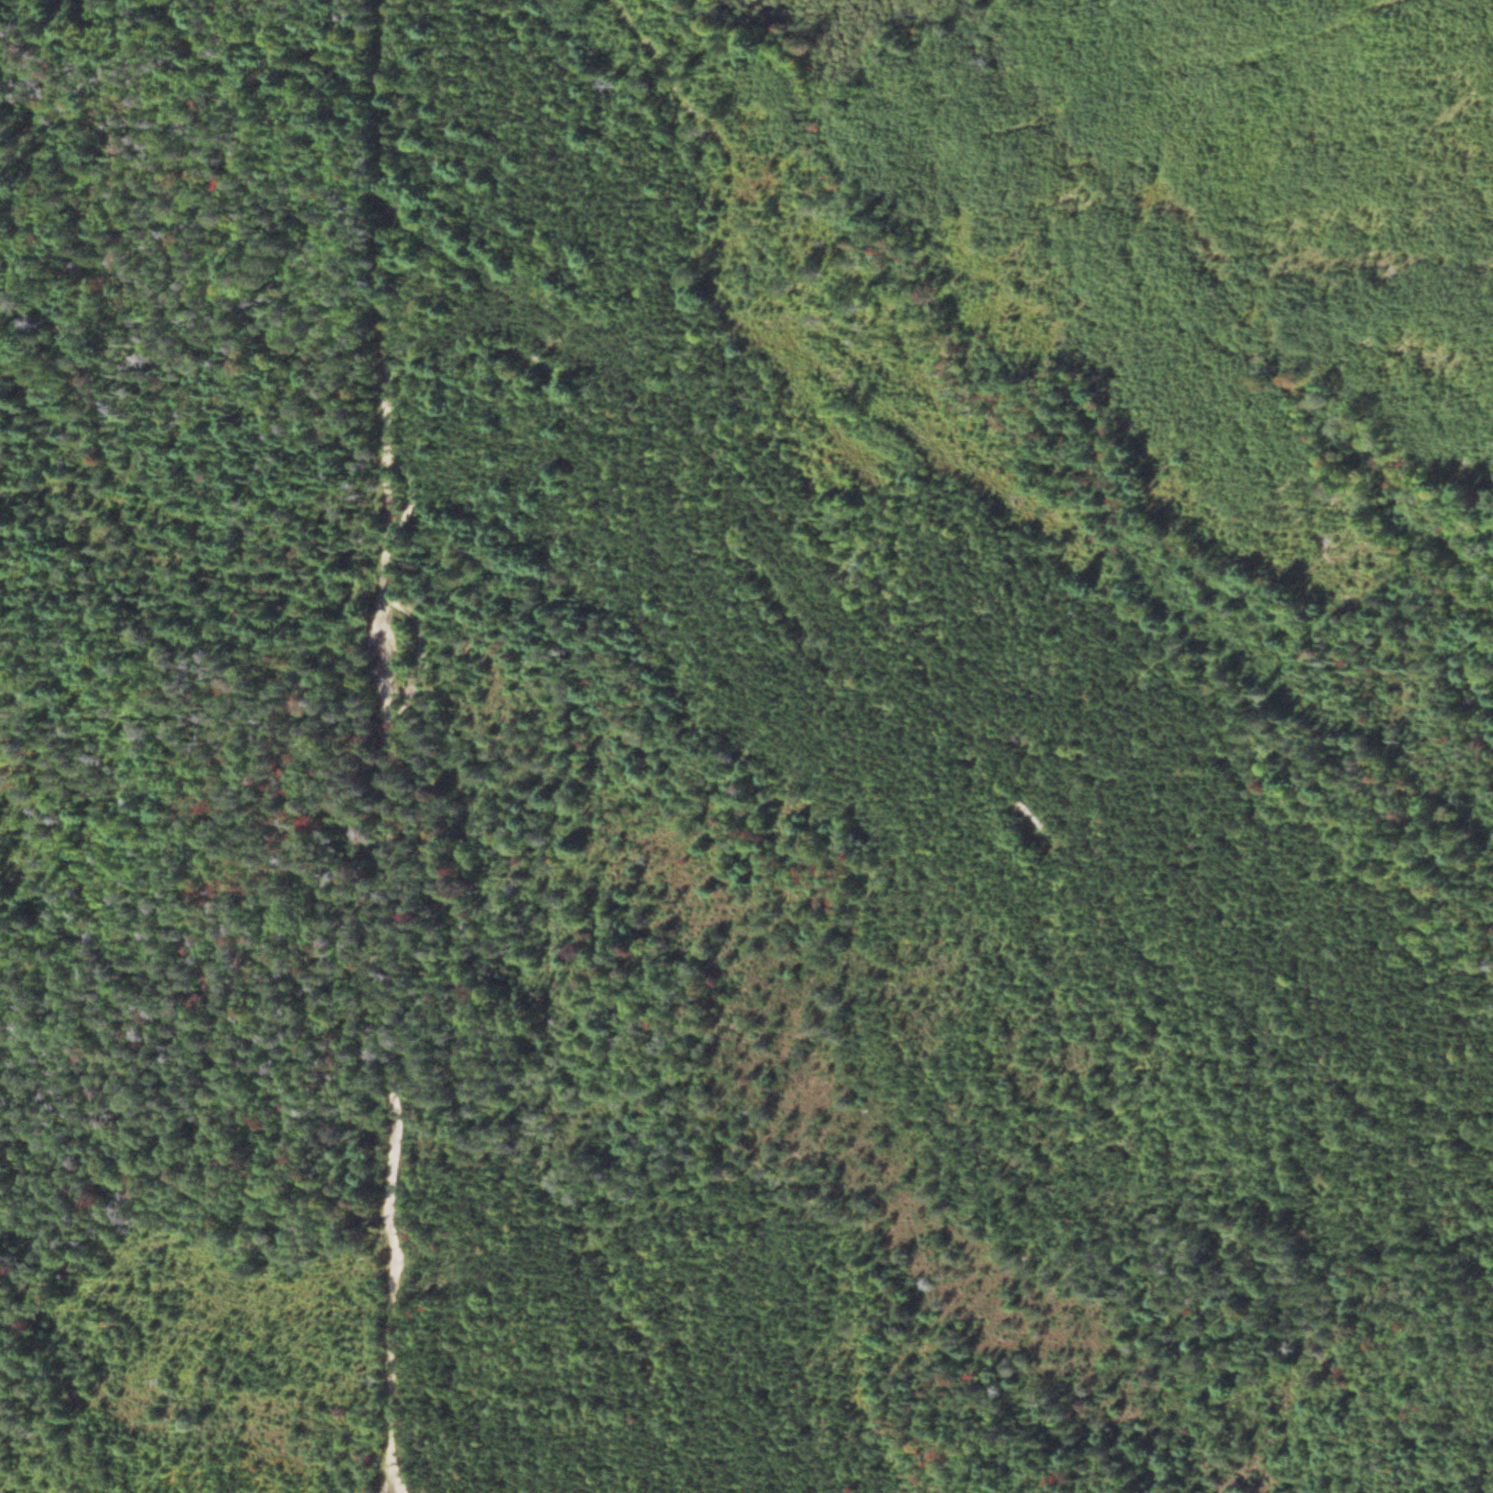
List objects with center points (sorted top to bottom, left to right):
road: (399, 746)

